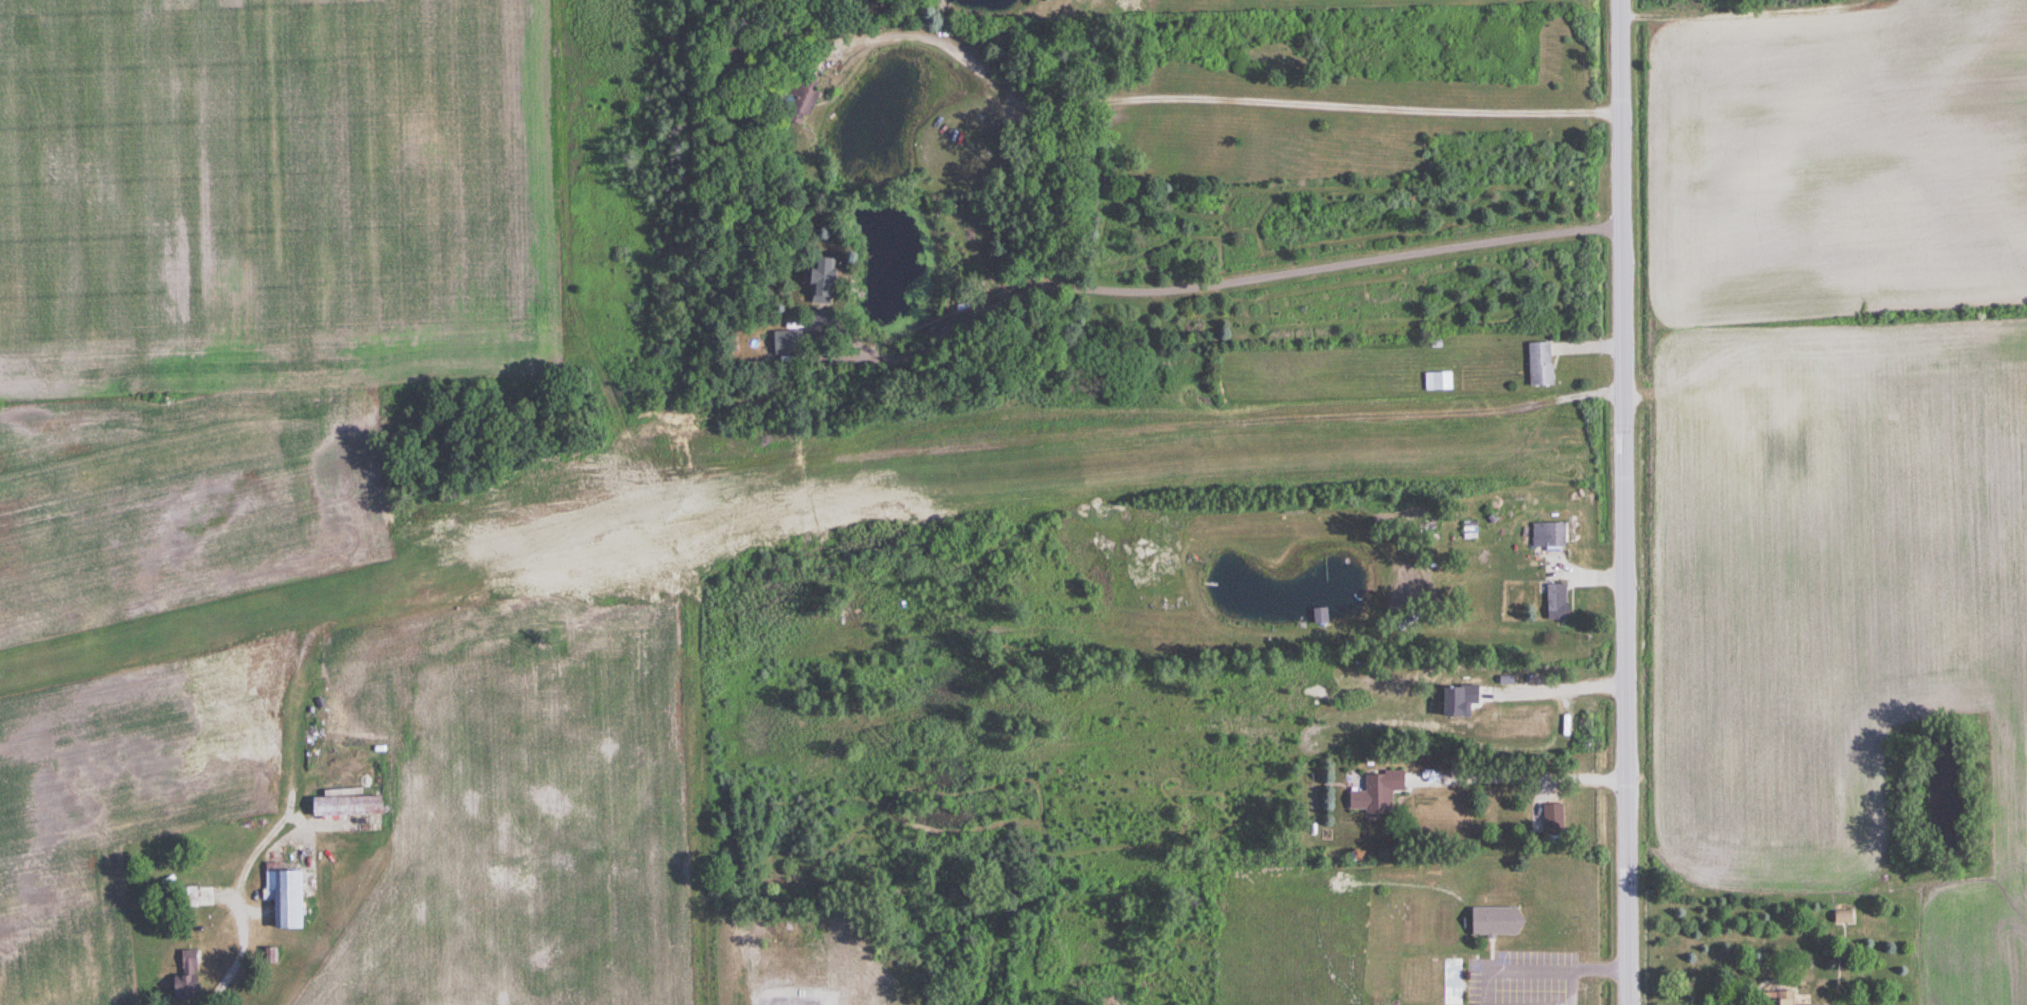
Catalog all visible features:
building: (796, 98)
building: (818, 280)
building: (787, 342)
building: (1538, 365)
building: (1437, 382)
airport runway: (762, 481)
road: (1627, 502)
building: (1547, 535)
building: (1147, 584)
building: (1555, 602)
building: (1320, 616)
road: (1561, 685)
airport taxiway: (278, 698)
road: (1522, 773)
building: (1374, 791)
building: (343, 805)
building: (1552, 818)
building: (186, 896)
building: (282, 897)
building: (1841, 917)
building: (1492, 920)
road: (1557, 963)
building: (183, 975)
building: (1452, 981)
building: (1777, 998)

